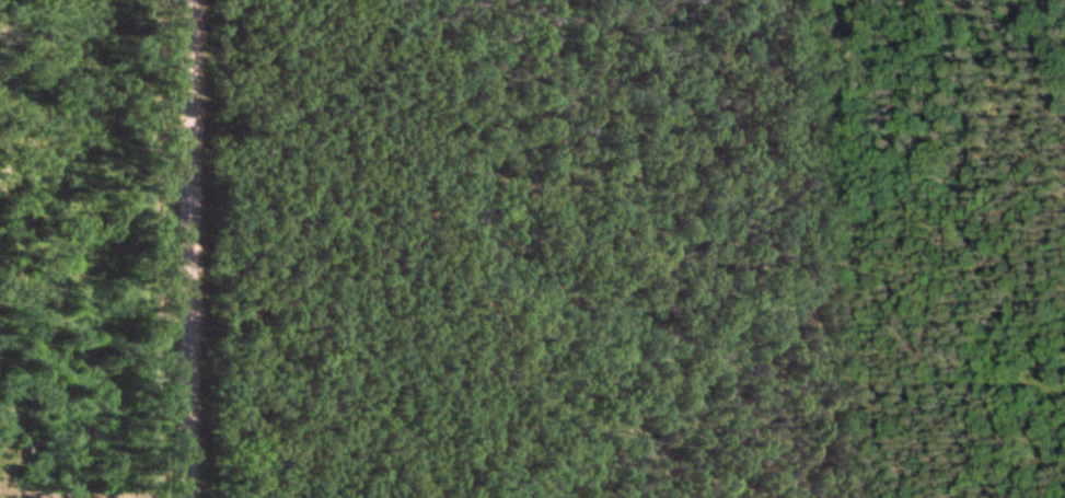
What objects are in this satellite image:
road: (183, 248)

